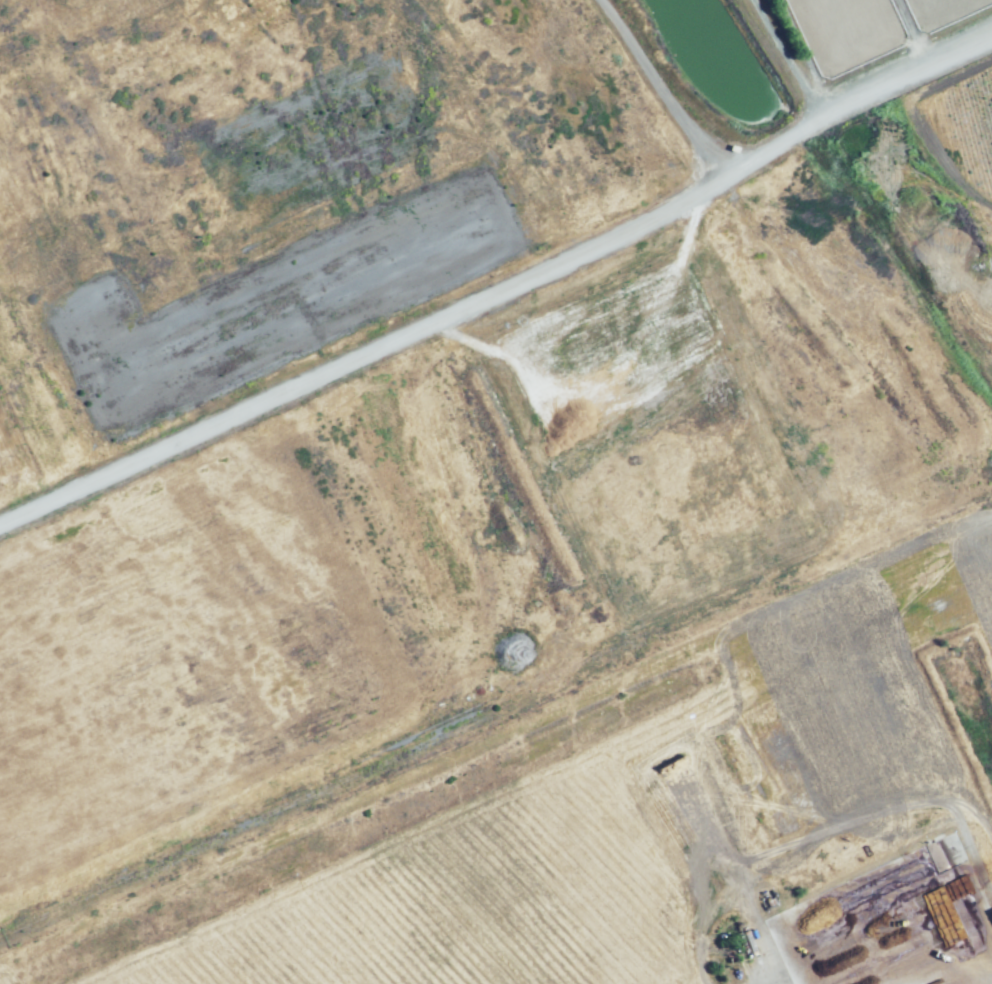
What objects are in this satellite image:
road: (659, 91)
crop: (953, 106)
road: (500, 287)
crop: (633, 824)
building: (760, 977)

